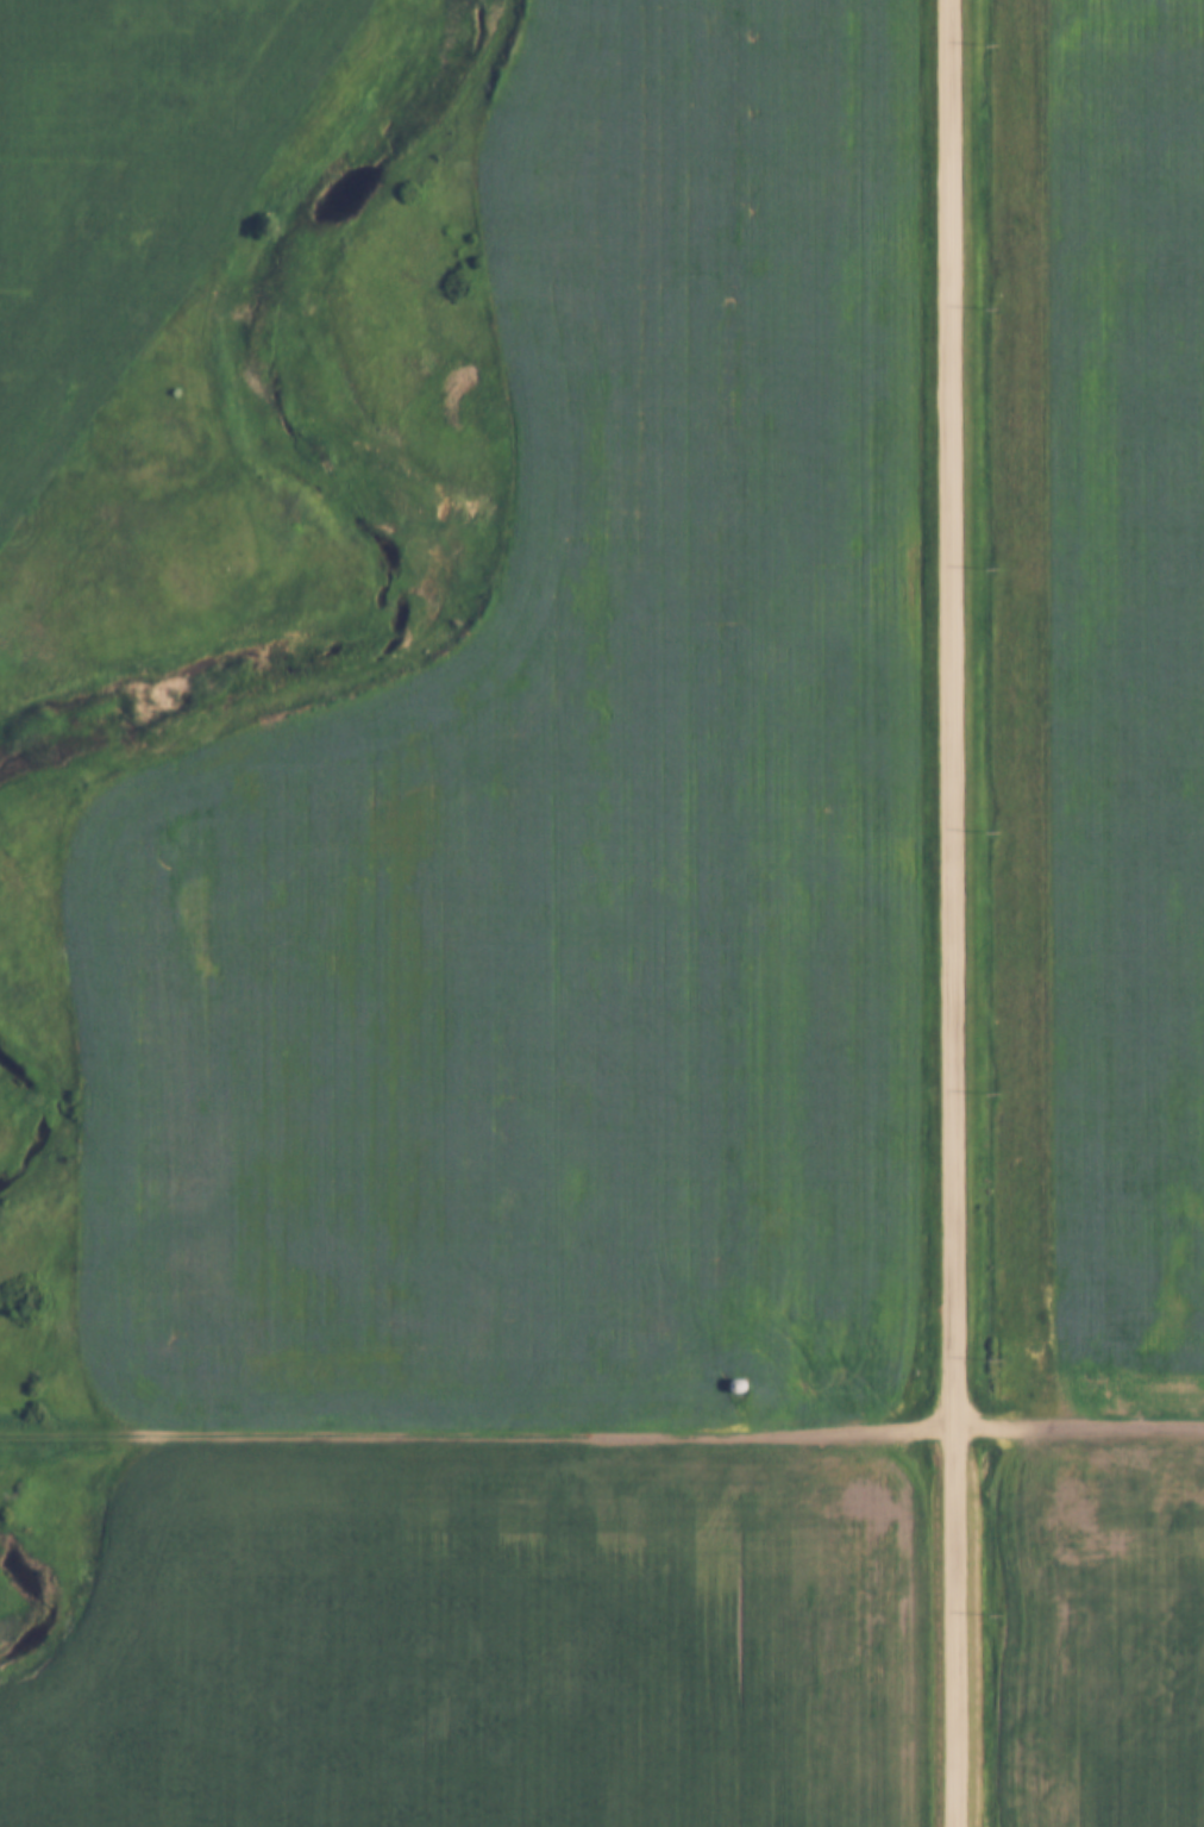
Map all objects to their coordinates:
road: (952, 913)
road: (602, 1422)

